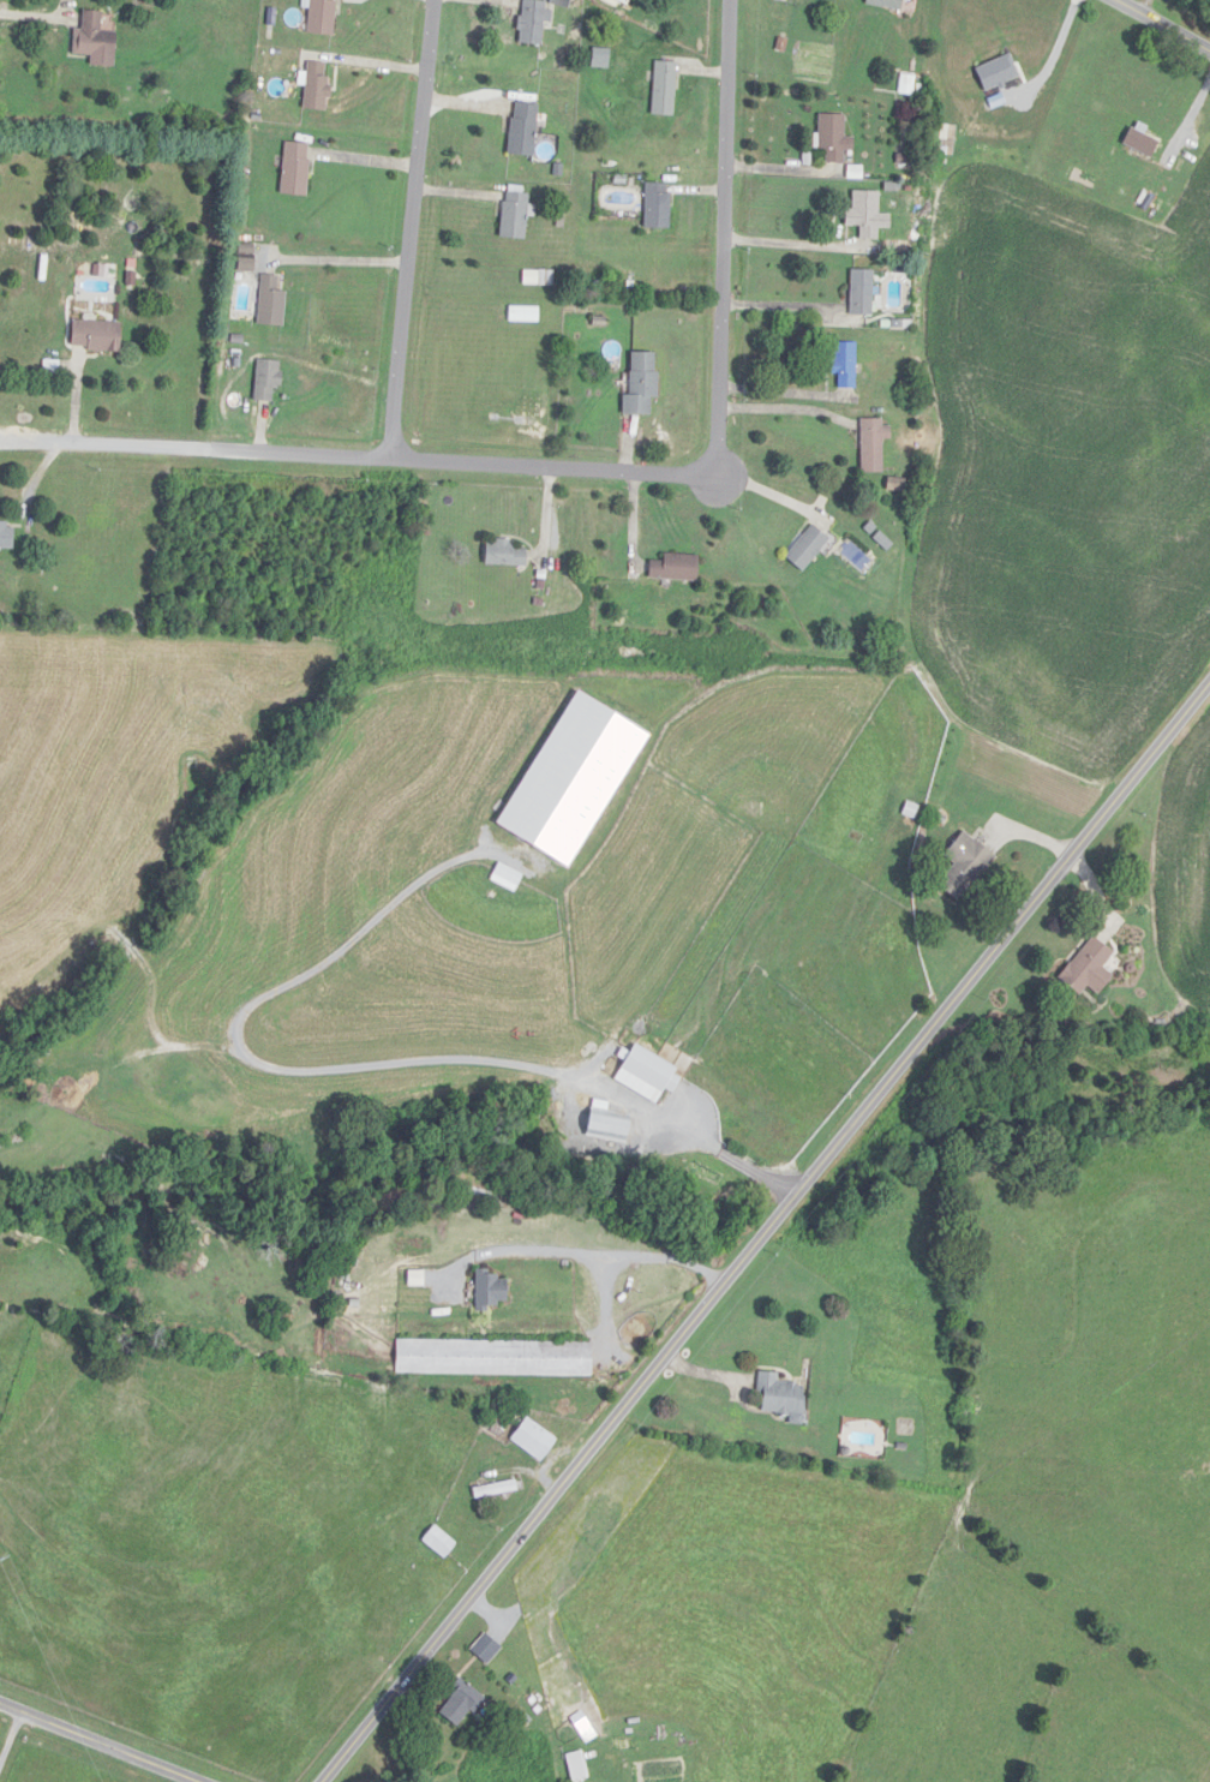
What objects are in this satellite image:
building: (888, 4)
building: (324, 17)
building: (535, 22)
road: (1163, 24)
building: (96, 41)
building: (318, 85)
building: (666, 88)
building: (525, 128)
building: (835, 137)
building: (298, 169)
building: (659, 207)
building: (516, 215)
building: (869, 215)
road: (411, 225)
road: (723, 234)
road: (797, 244)
road: (336, 259)
building: (864, 292)
building: (272, 303)
road: (791, 304)
building: (98, 336)
building: (846, 364)
building: (269, 382)
building: (643, 384)
road: (784, 408)
building: (875, 445)
road: (358, 449)
building: (7, 536)
building: (810, 549)
building: (507, 554)
building: (677, 568)
building: (966, 865)
building: (1091, 969)
building: (652, 1077)
building: (611, 1126)
road: (685, 1130)
building: (768, 1134)
road: (765, 1231)
road: (612, 1252)
building: (492, 1288)
building: (496, 1357)
building: (783, 1394)
building: (535, 1439)
building: (497, 1488)
building: (441, 1541)
building: (462, 1702)
building: (586, 1726)
road: (8, 1734)
road: (96, 1742)

